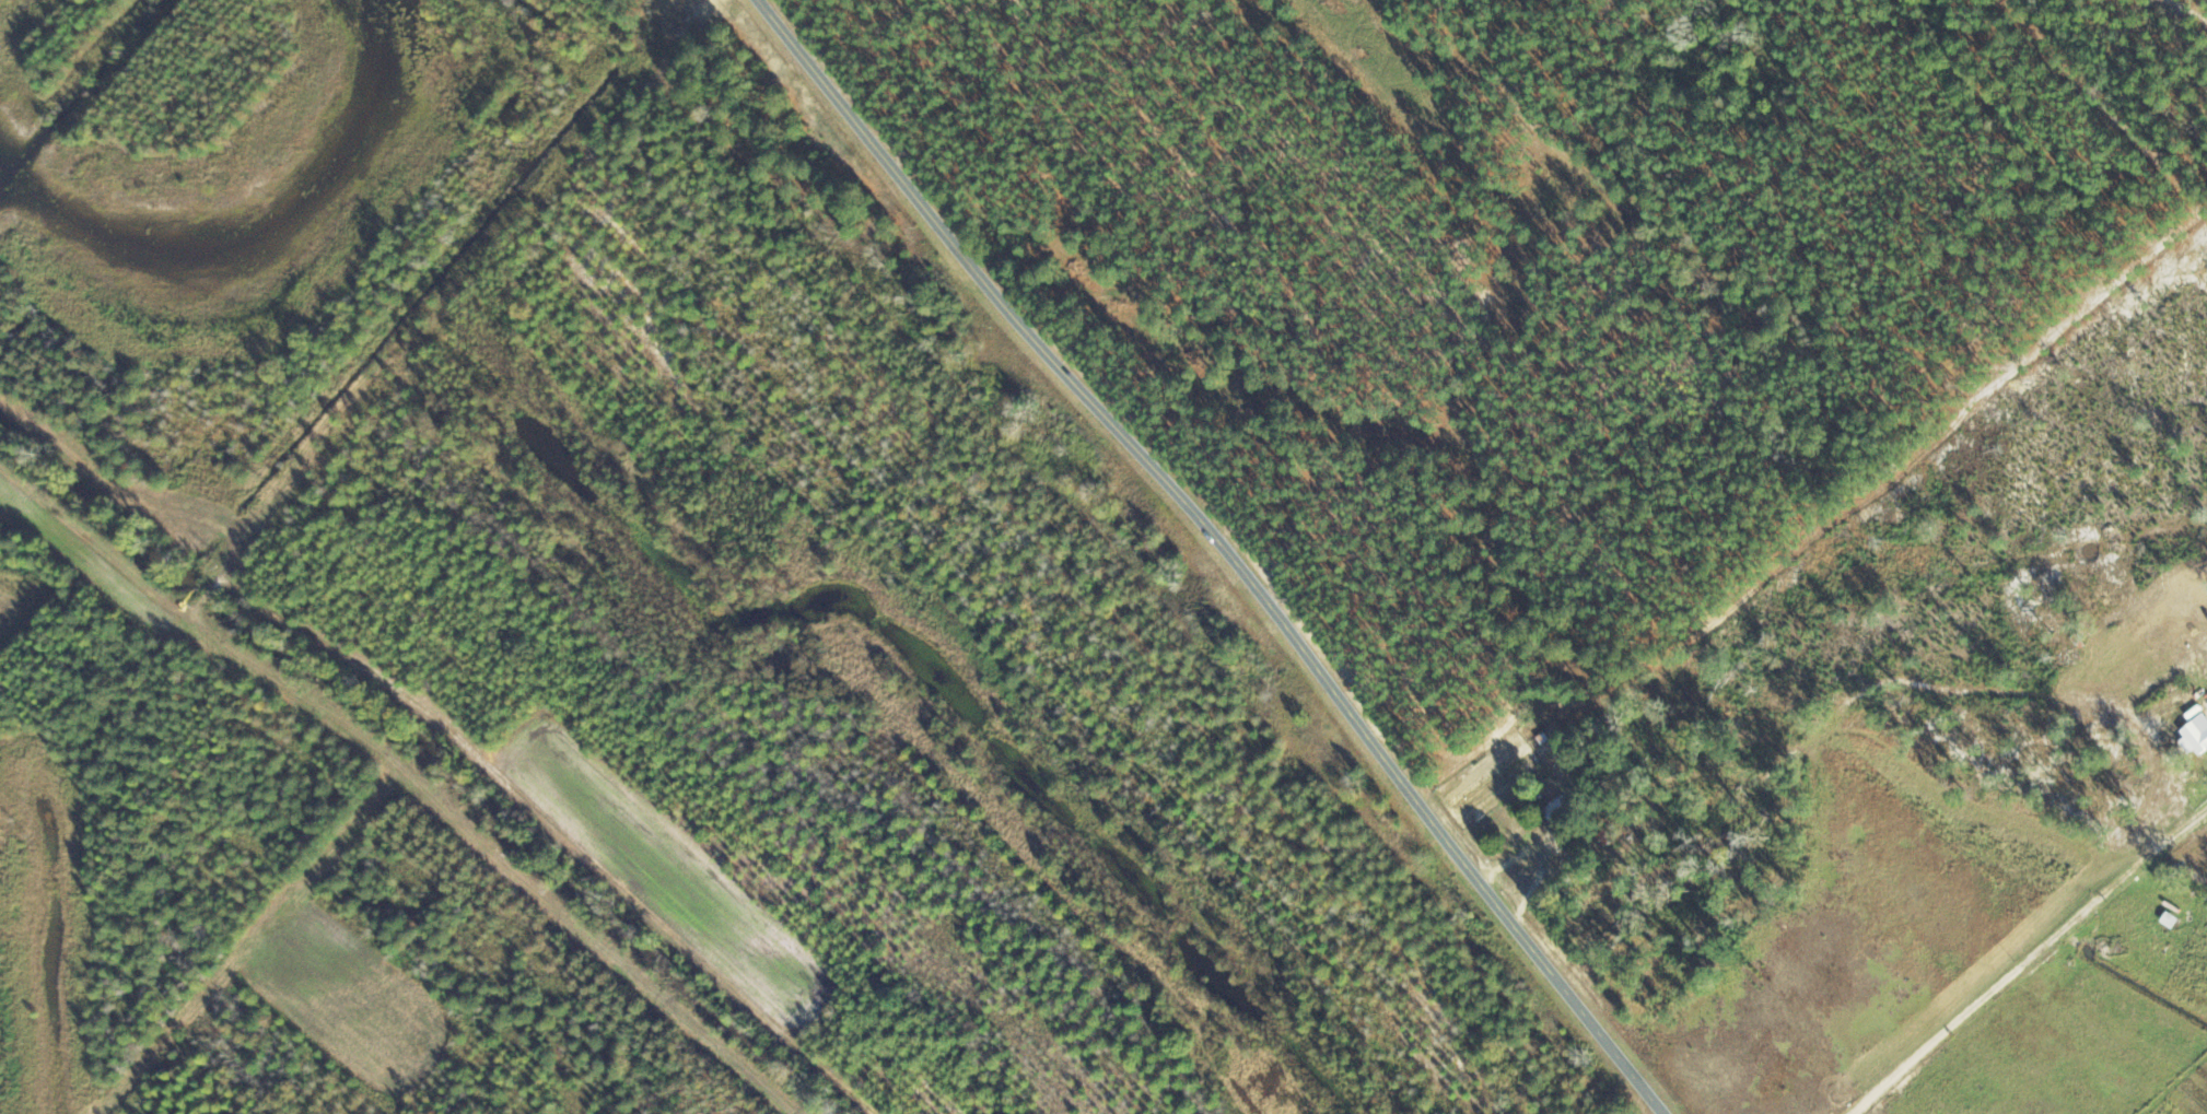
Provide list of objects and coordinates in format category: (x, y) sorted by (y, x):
road: (1225, 544)
building: (2195, 736)
building: (1558, 808)

